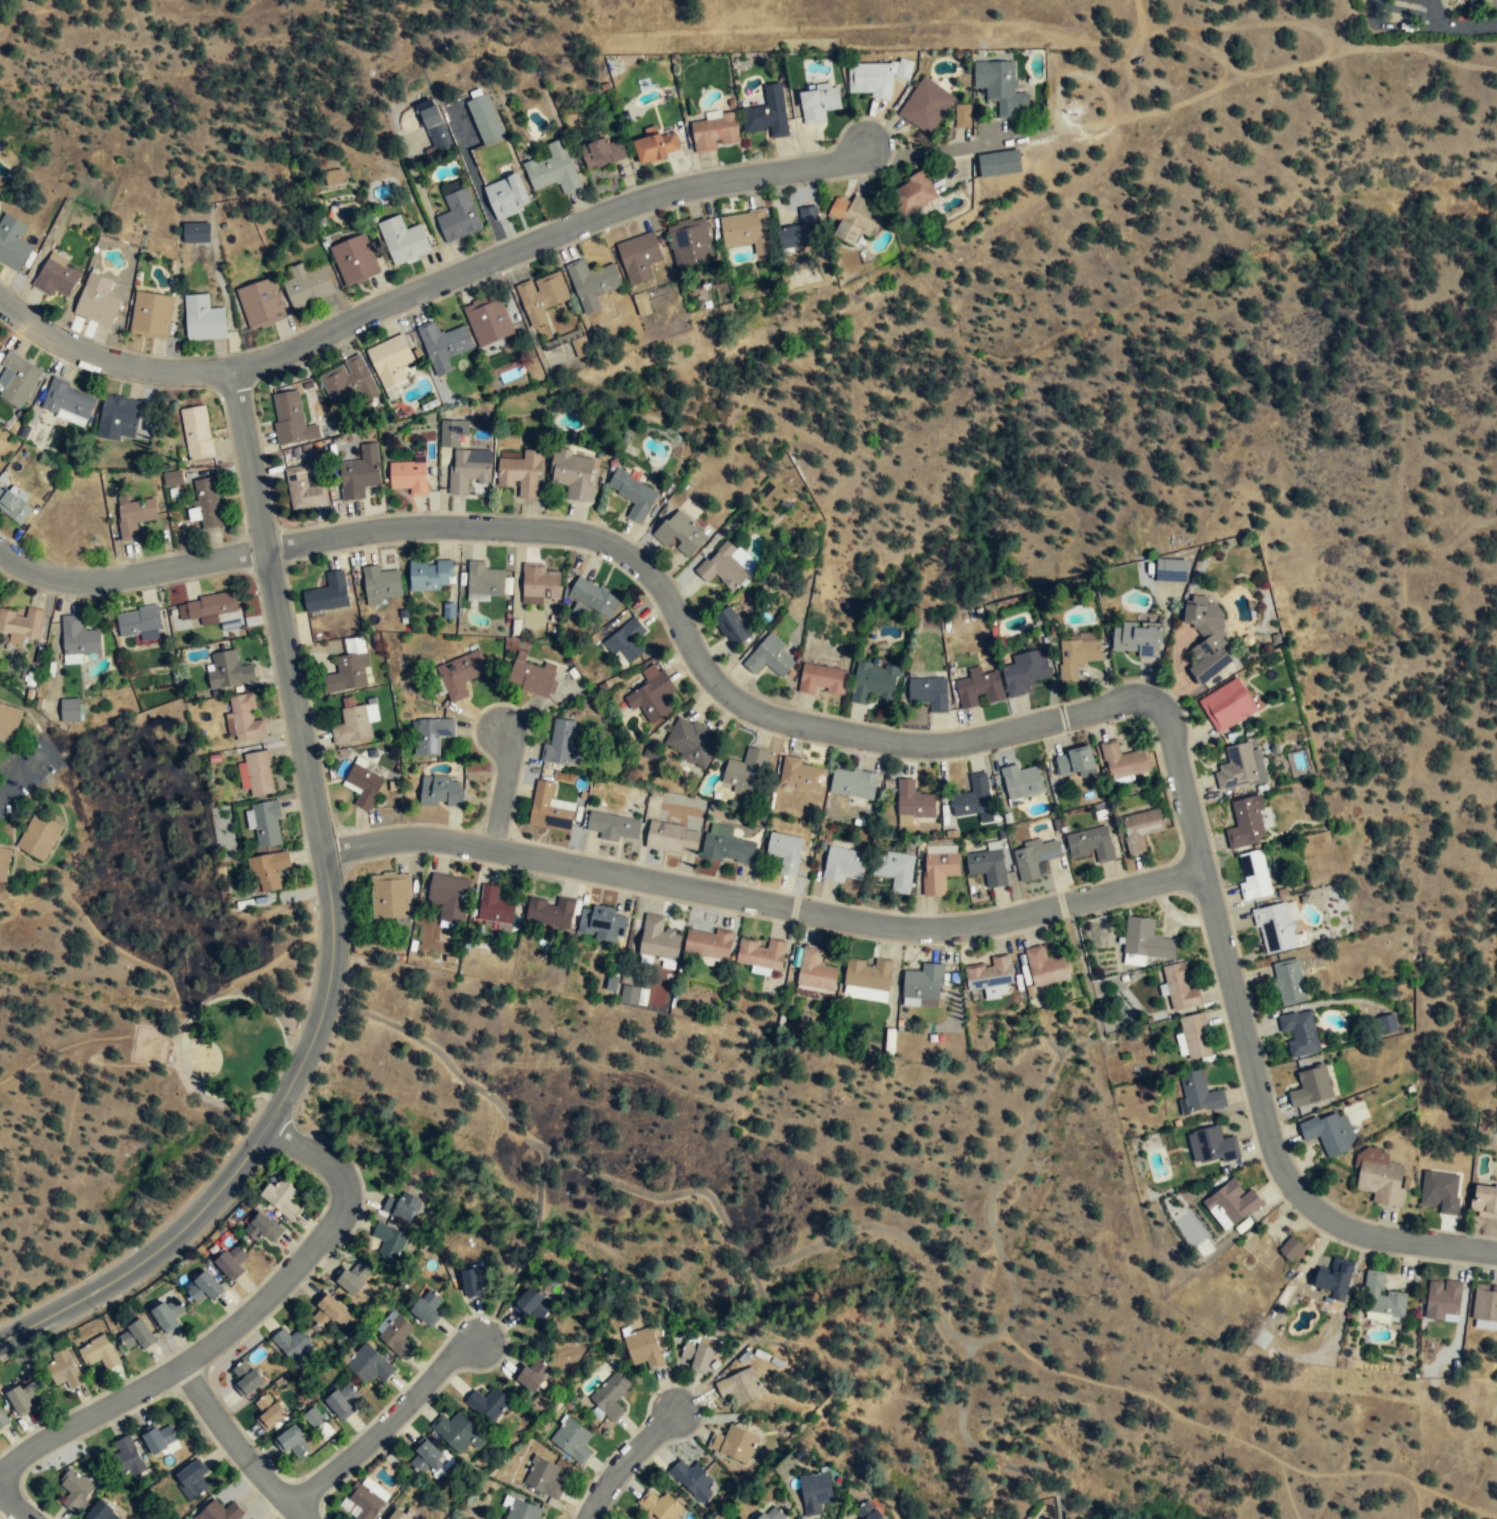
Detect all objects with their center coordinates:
building: (1475, 4)
road: (1435, 13)
road: (1373, 14)
road: (1469, 26)
building: (869, 80)
building: (1002, 89)
building: (818, 101)
building: (726, 102)
building: (926, 107)
building: (767, 114)
building: (961, 116)
building: (485, 121)
building: (434, 124)
building: (714, 132)
building: (657, 148)
road: (938, 149)
building: (605, 152)
building: (999, 163)
building: (553, 169)
building: (333, 178)
building: (914, 193)
building: (507, 196)
building: (457, 213)
building: (851, 219)
building: (743, 230)
building: (802, 231)
building: (194, 232)
road: (541, 238)
building: (403, 240)
building: (12, 243)
building: (691, 244)
building: (639, 258)
building: (354, 260)
building: (56, 277)
building: (592, 284)
building: (308, 286)
building: (541, 298)
building: (99, 300)
building: (640, 303)
building: (260, 304)
building: (151, 316)
building: (203, 320)
building: (465, 334)
building: (580, 346)
road: (109, 361)
building: (390, 361)
building: (17, 380)
building: (346, 382)
building: (68, 403)
building: (119, 418)
building: (291, 420)
building: (451, 432)
building: (197, 433)
road: (249, 460)
building: (467, 470)
building: (360, 474)
building: (521, 474)
building: (573, 475)
building: (172, 477)
building: (409, 477)
building: (303, 490)
building: (632, 495)
building: (206, 502)
building: (13, 507)
building: (134, 516)
building: (69, 523)
building: (680, 534)
building: (724, 569)
building: (1171, 571)
road: (129, 575)
building: (431, 575)
building: (484, 579)
building: (540, 580)
building: (381, 582)
building: (327, 593)
building: (593, 597)
building: (206, 608)
building: (138, 622)
building: (22, 623)
building: (730, 628)
building: (1205, 638)
building: (78, 639)
building: (1135, 640)
building: (626, 643)
road: (696, 652)
building: (1076, 657)
building: (769, 658)
building: (228, 670)
building: (1023, 671)
building: (347, 674)
building: (461, 675)
building: (530, 678)
building: (822, 681)
building: (873, 684)
building: (978, 689)
building: (928, 693)
building: (652, 696)
building: (1227, 704)
building: (70, 709)
building: (244, 718)
building: (9, 722)
building: (352, 726)
building: (430, 735)
building: (691, 742)
building: (561, 744)
building: (1074, 759)
building: (1123, 760)
building: (1236, 767)
road: (26, 772)
building: (258, 773)
building: (746, 773)
building: (800, 773)
building: (1021, 780)
building: (853, 784)
building: (364, 785)
road: (502, 786)
building: (441, 792)
building: (972, 799)
building: (913, 802)
building: (548, 812)
building: (1246, 821)
building: (265, 823)
building: (613, 827)
building: (1141, 827)
building: (39, 837)
building: (672, 839)
building: (1091, 845)
building: (727, 847)
building: (784, 850)
building: (1033, 857)
building: (842, 863)
building: (4, 864)
building: (987, 865)
building: (894, 870)
building: (269, 871)
building: (938, 872)
building: (1254, 875)
building: (391, 895)
building: (449, 897)
road: (763, 901)
building: (494, 907)
building: (550, 913)
building: (602, 922)
building: (1274, 926)
building: (1146, 939)
building: (658, 941)
building: (708, 944)
building: (761, 955)
building: (1045, 968)
building: (840, 974)
building: (988, 976)
building: (1289, 981)
building: (921, 985)
building: (1179, 985)
building: (633, 994)
road: (319, 1014)
building: (1386, 1023)
building: (1300, 1032)
building: (1195, 1034)
street lamp: (295, 1035)
park: (238, 1045)
road: (1249, 1049)
park: (201, 1059)
road: (281, 1067)
building: (1311, 1085)
building: (1200, 1091)
building: (1326, 1132)
building: (1214, 1143)
building: (1381, 1178)
building: (1440, 1191)
building: (281, 1199)
building: (1233, 1199)
building: (1484, 1202)
building: (403, 1206)
park: (800, 1209)
building: (265, 1230)
road: (887, 1230)
building: (389, 1242)
building: (1266, 1253)
road: (967, 1260)
building: (231, 1263)
building: (1336, 1275)
building: (352, 1278)
building: (472, 1283)
building: (204, 1288)
building: (1382, 1296)
building: (1442, 1298)
building: (1485, 1301)
building: (533, 1303)
building: (426, 1306)
building: (329, 1313)
building: (168, 1315)
road: (235, 1323)
building: (136, 1336)
building: (396, 1336)
building: (294, 1346)
building: (643, 1349)
building: (99, 1354)
building: (696, 1356)
building: (368, 1365)
building: (63, 1370)
building: (532, 1376)
building: (246, 1379)
building: (739, 1387)
building: (609, 1395)
building: (22, 1399)
building: (341, 1400)
building: (488, 1405)
building: (269, 1413)
building: (0, 1422)
road: (383, 1422)
building: (318, 1424)
road: (1203, 1424)
building: (455, 1433)
building: (159, 1440)
building: (572, 1440)
building: (293, 1442)
road: (237, 1445)
building: (733, 1445)
road: (982, 1451)
building: (128, 1458)
building: (427, 1458)
road: (625, 1462)
building: (543, 1477)
building: (191, 1479)
building: (692, 1480)
building: (74, 1489)
building: (815, 1493)
road: (1457, 1501)
building: (366, 1503)
road: (15, 1505)
building: (660, 1506)
building: (523, 1510)
building: (220, 1511)
building: (103, 1512)
building: (868, 1512)
building: (773, 1514)
building: (401, 1515)

